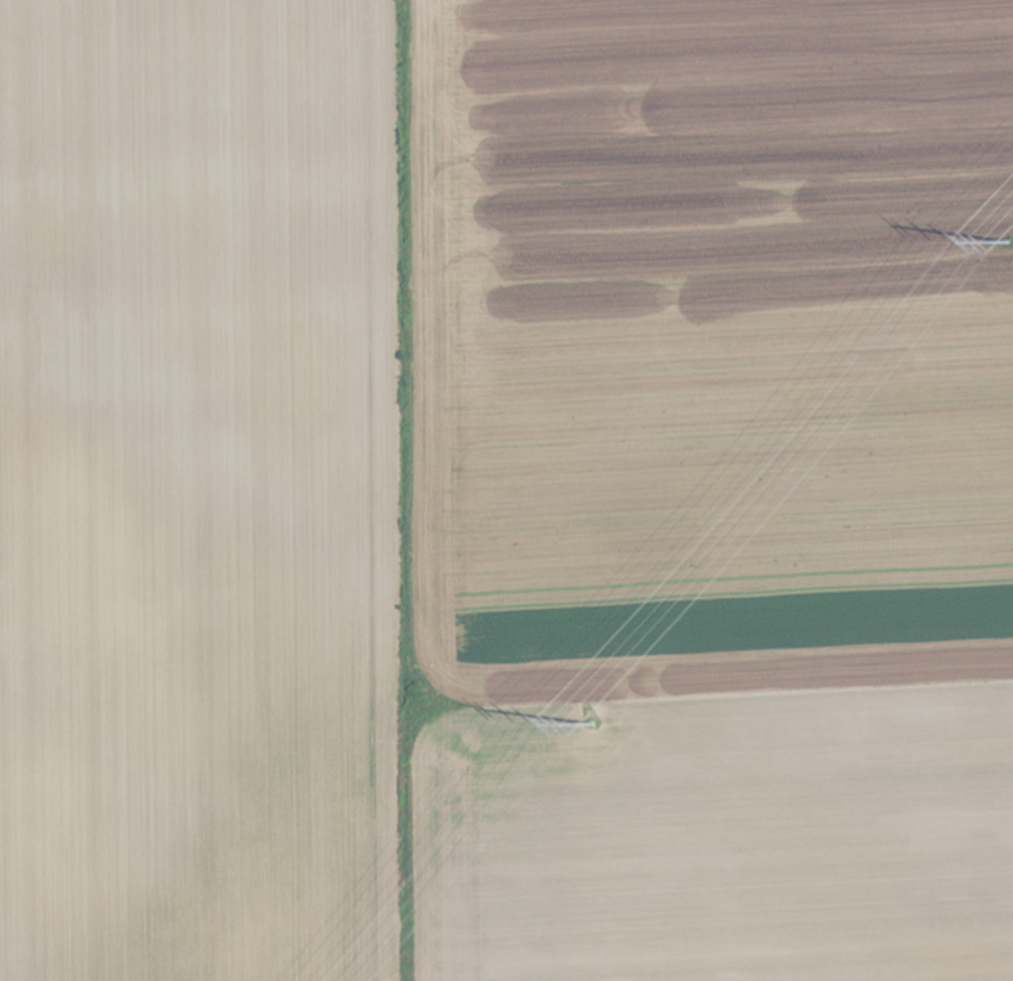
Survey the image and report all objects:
power tower: (1012, 236)
power tower: (602, 720)

